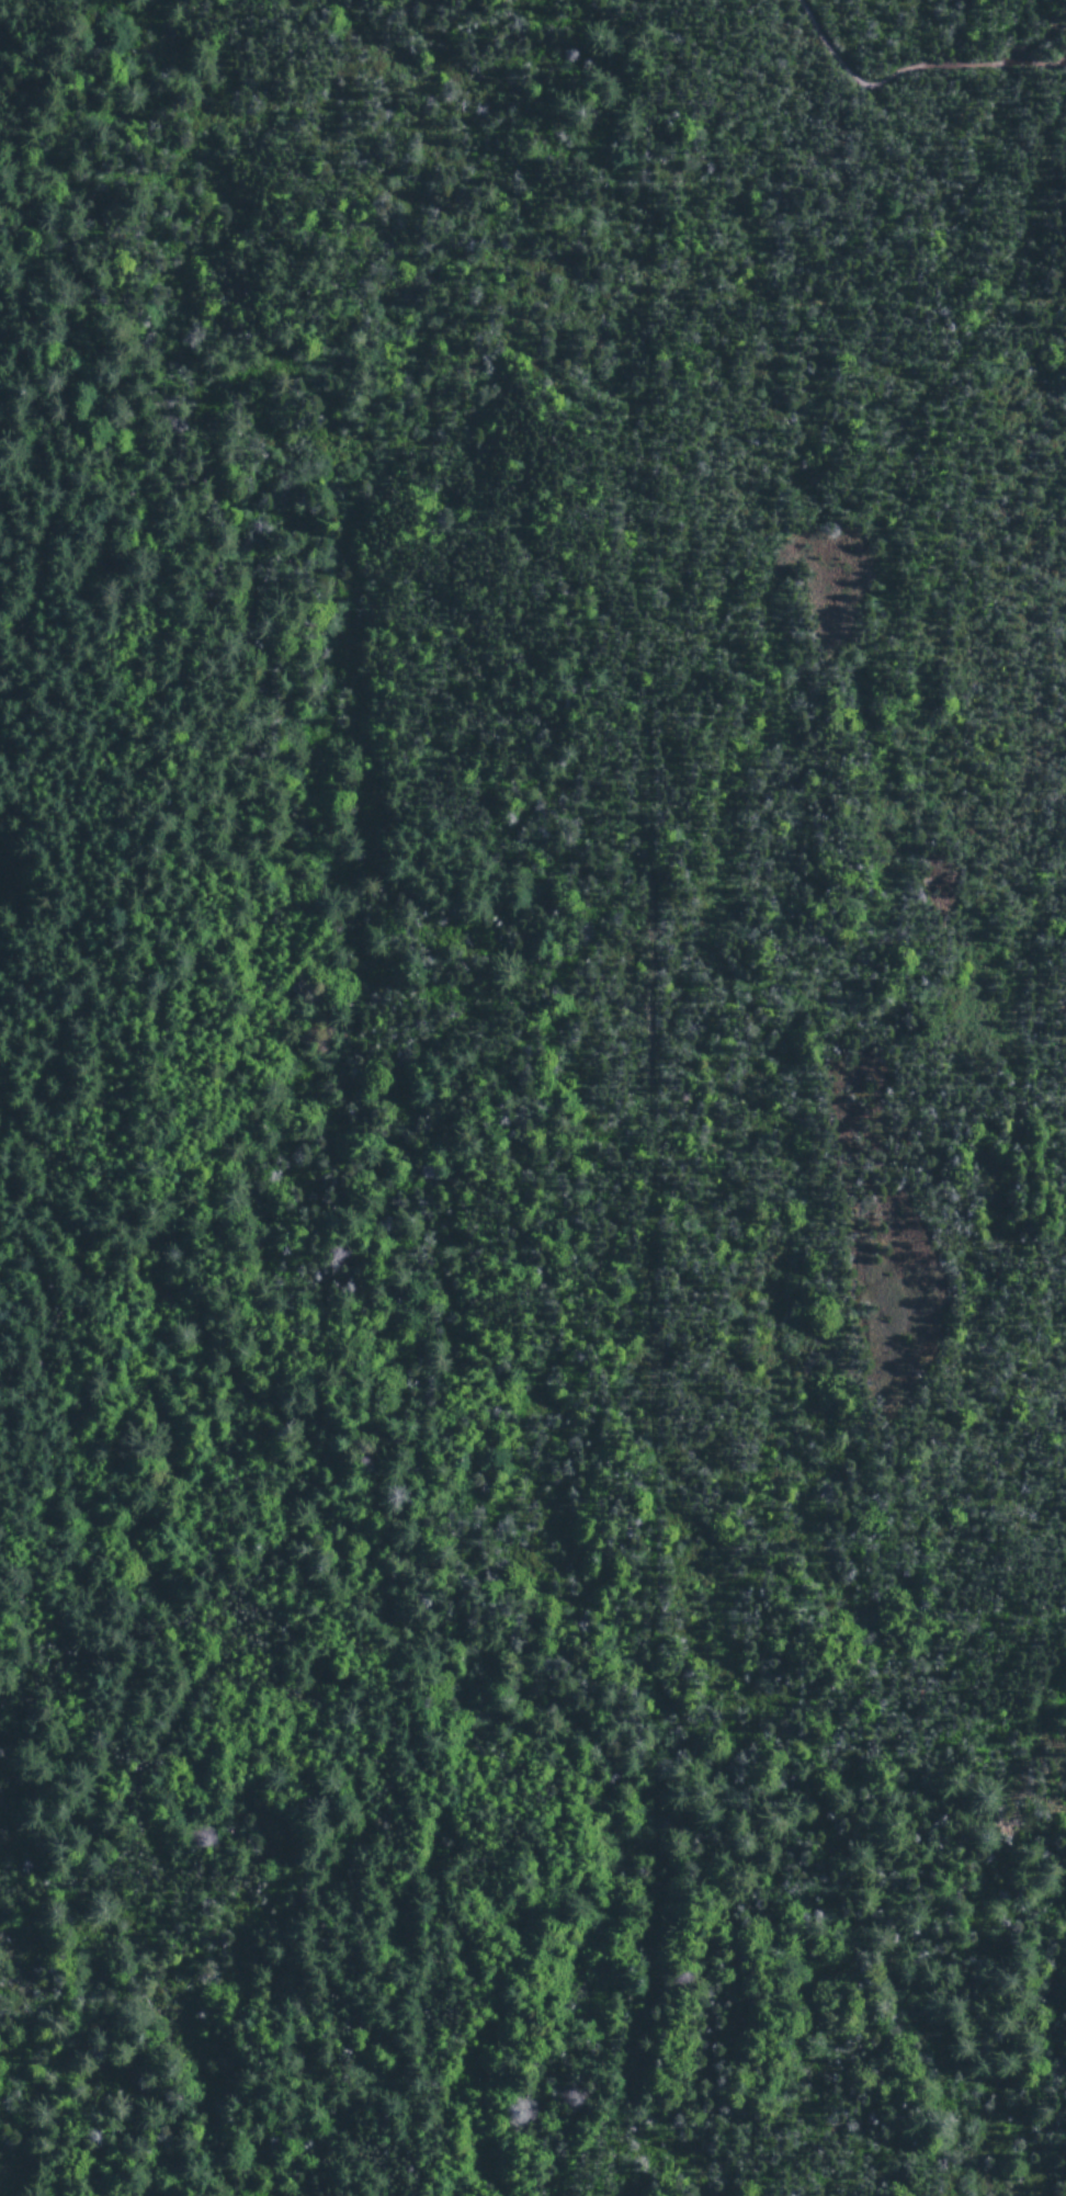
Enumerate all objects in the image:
road: (914, 67)

